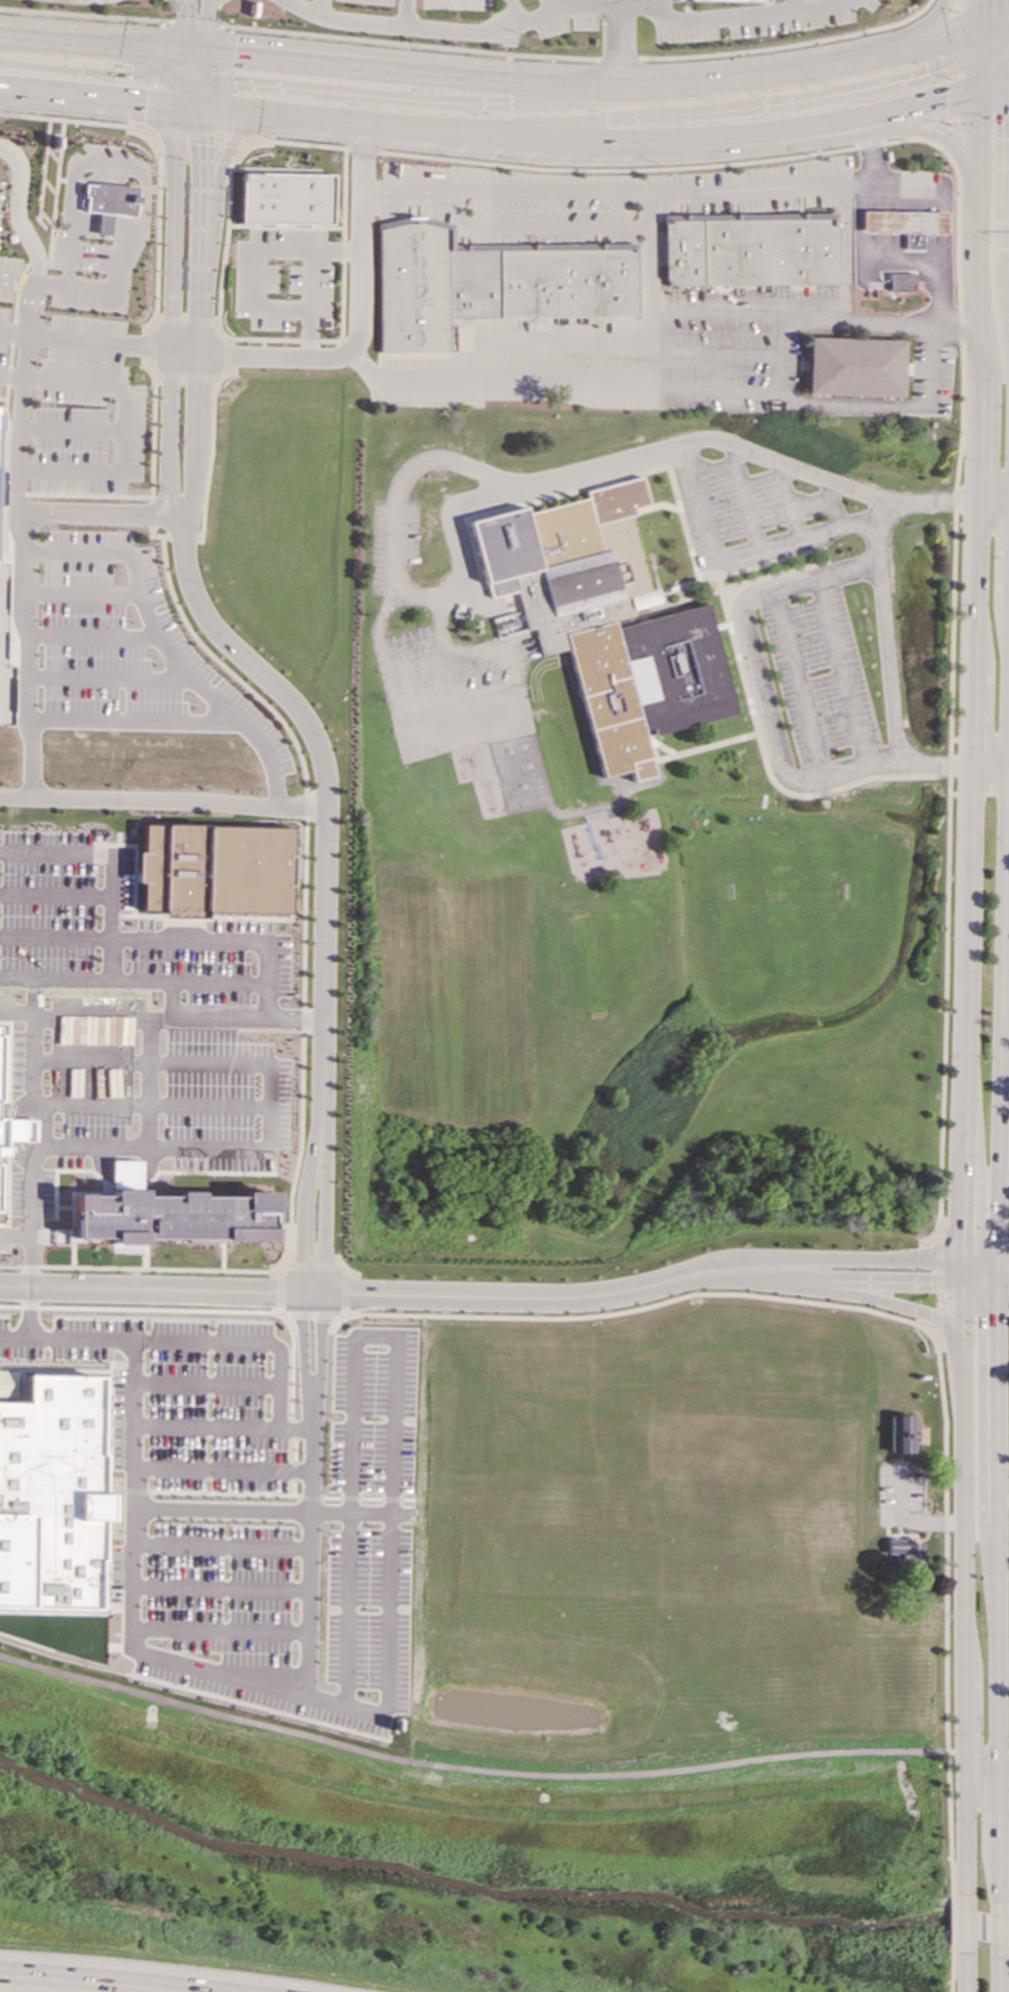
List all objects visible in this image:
parking lot: (677, 0)
building: (741, 0)
road: (834, 1)
road: (184, 2)
road: (187, 2)
parking lot: (373, 2)
road: (953, 2)
road: (963, 2)
road: (209, 3)
parking lot: (457, 5)
road: (662, 5)
road: (792, 5)
road: (554, 6)
road: (320, 7)
road: (563, 11)
road: (988, 13)
road: (406, 14)
road: (507, 14)
road: (80, 15)
traffic signals: (187, 17)
parking lot: (566, 17)
parking lot: (758, 19)
road: (998, 22)
road: (196, 24)
road: (185, 26)
road: (206, 26)
road: (920, 28)
road: (985, 39)
road: (91, 42)
road: (996, 44)
road: (415, 45)
road: (788, 45)
road: (619, 47)
road: (227, 48)
road: (195, 51)
traffic signals: (233, 54)
road: (618, 59)
road: (182, 62)
road: (953, 64)
road: (343, 65)
road: (197, 67)
road: (205, 67)
traffic signals: (938, 71)
road: (90, 72)
road: (981, 72)
traffic signals: (125, 76)
road: (155, 76)
road: (993, 77)
road: (736, 78)
traffic signals: (232, 82)
road: (994, 87)
road: (180, 90)
road: (189, 91)
road: (204, 95)
road: (89, 96)
road: (412, 100)
traffic signals: (947, 101)
traffic signals: (145, 102)
road: (221, 104)
road: (191, 106)
road: (922, 106)
road: (711, 111)
road: (980, 118)
road: (73, 123)
road: (866, 126)
road: (931, 133)
road: (183, 134)
road: (944, 136)
road: (232, 139)
road: (534, 141)
road: (296, 144)
traffic signals: (203, 145)
road: (361, 150)
road: (752, 151)
road: (872, 158)
road: (78, 163)
road: (658, 169)
road: (860, 183)
road: (218, 190)
road: (745, 190)
parking lot: (1, 192)
road: (544, 192)
road: (405, 196)
building: (286, 199)
building: (108, 203)
road: (647, 210)
road: (16, 212)
road: (52, 218)
building: (903, 221)
gas station: (903, 221)
road: (285, 227)
road: (582, 227)
road: (158, 229)
road: (973, 234)
road: (284, 238)
building: (750, 249)
road: (71, 254)
road: (123, 259)
parking lot: (9, 277)
parking lot: (283, 278)
road: (201, 279)
road: (256, 279)
road: (311, 280)
building: (490, 282)
building: (901, 282)
road: (58, 283)
road: (173, 311)
road: (749, 313)
road: (844, 318)
road: (187, 321)
road: (539, 338)
road: (276, 340)
parking lot: (3, 341)
road: (11, 345)
road: (151, 346)
road: (778, 351)
road: (717, 352)
road: (227, 354)
road: (288, 357)
building: (853, 367)
road: (154, 369)
road: (186, 377)
road: (532, 380)
road: (61, 381)
road: (3, 399)
road: (928, 404)
parking lot: (86, 411)
road: (71, 429)
road: (153, 437)
road: (977, 438)
road: (755, 453)
road: (211, 454)
road: (112, 472)
road: (41, 483)
road: (60, 483)
road: (79, 484)
road: (194, 484)
road: (31, 494)
road: (741, 495)
parking lot: (764, 499)
road: (151, 512)
road: (98, 514)
road: (156, 536)
road: (184, 537)
road: (23, 538)
road: (744, 549)
road: (53, 572)
road: (395, 582)
road: (82, 593)
road: (143, 604)
building: (606, 621)
road: (94, 635)
parking lot: (130, 651)
road: (53, 666)
building: (4, 667)
road: (839, 675)
parking lot: (824, 677)
road: (108, 678)
road: (800, 688)
road: (950, 691)
road: (182, 723)
road: (979, 739)
road: (935, 763)
road: (989, 764)
road: (819, 782)
road: (979, 794)
road: (164, 800)
road: (327, 809)
road: (95, 856)
building: (214, 870)
road: (967, 880)
road: (55, 894)
parking lot: (46, 909)
road: (55, 937)
road: (211, 941)
road: (110, 960)
parking lot: (213, 961)
road: (1002, 968)
road: (104, 981)
road: (235, 985)
road: (252, 1017)
road: (302, 1019)
road: (93, 1020)
building: (22, 1047)
road: (151, 1063)
parking lot: (93, 1073)
parking lot: (225, 1102)
road: (150, 1105)
road: (269, 1107)
building: (94, 1121)
road: (147, 1124)
road: (43, 1133)
building: (1, 1135)
road: (21, 1137)
road: (208, 1150)
road: (979, 1159)
road: (125, 1175)
parking lot: (33, 1193)
building: (172, 1217)
road: (302, 1222)
road: (323, 1223)
traffic signals: (960, 1237)
traffic signals: (978, 1237)
road: (974, 1242)
building: (61, 1255)
road: (861, 1259)
road: (969, 1263)
road: (987, 1264)
road: (1002, 1265)
road: (311, 1266)
road: (960, 1273)
road: (970, 1273)
road: (984, 1276)
road: (995, 1276)
road: (860, 1281)
traffic signals: (931, 1283)
road: (969, 1285)
road: (986, 1286)
road: (1002, 1287)
road: (938, 1289)
road: (278, 1291)
road: (342, 1291)
road: (383, 1294)
road: (887, 1302)
road: (640, 1308)
road: (141, 1309)
road: (29, 1312)
traffic signals: (995, 1313)
road: (960, 1314)
road: (311, 1316)
traffic signals: (981, 1319)
road: (196, 1341)
road: (299, 1342)
road: (319, 1342)
road: (289, 1366)
building: (392, 1369)
road: (109, 1382)
road: (205, 1384)
parking lot: (186, 1396)
parking lot: (372, 1415)
parking lot: (117, 1419)
road: (121, 1423)
road: (133, 1424)
road: (391, 1425)
road: (349, 1426)
road: (205, 1427)
road: (291, 1429)
building: (901, 1434)
road: (120, 1442)
road: (293, 1450)
road: (981, 1457)
road: (120, 1461)
road: (221, 1470)
road: (293, 1471)
road: (292, 1488)
road: (134, 1491)
road: (219, 1493)
building: (50, 1494)
road: (294, 1496)
road: (307, 1497)
road: (329, 1498)
road: (348, 1498)
road: (369, 1498)
road: (385, 1499)
road: (221, 1512)
road: (996, 1531)
road: (111, 1535)
road: (308, 1543)
road: (221, 1546)
building: (901, 1553)
road: (117, 1555)
road: (117, 1574)
road: (129, 1578)
parking lot: (114, 1580)
road: (218, 1589)
parking lot: (219, 1591)
road: (388, 1596)
road: (347, 1611)
parking lot: (368, 1614)
road: (944, 1615)
road: (962, 1618)
road: (217, 1631)
road: (255, 1683)
parking lot: (258, 1700)
road: (978, 1752)
road: (467, 1769)
road: (979, 1775)
road: (1001, 1776)
road: (997, 1836)
park: (1008, 1869)
road: (950, 1921)
road: (965, 1927)
road: (999, 1929)
road: (949, 1969)
road: (1000, 1976)
road: (965, 1977)
road: (96, 1980)
road: (110, 1987)

